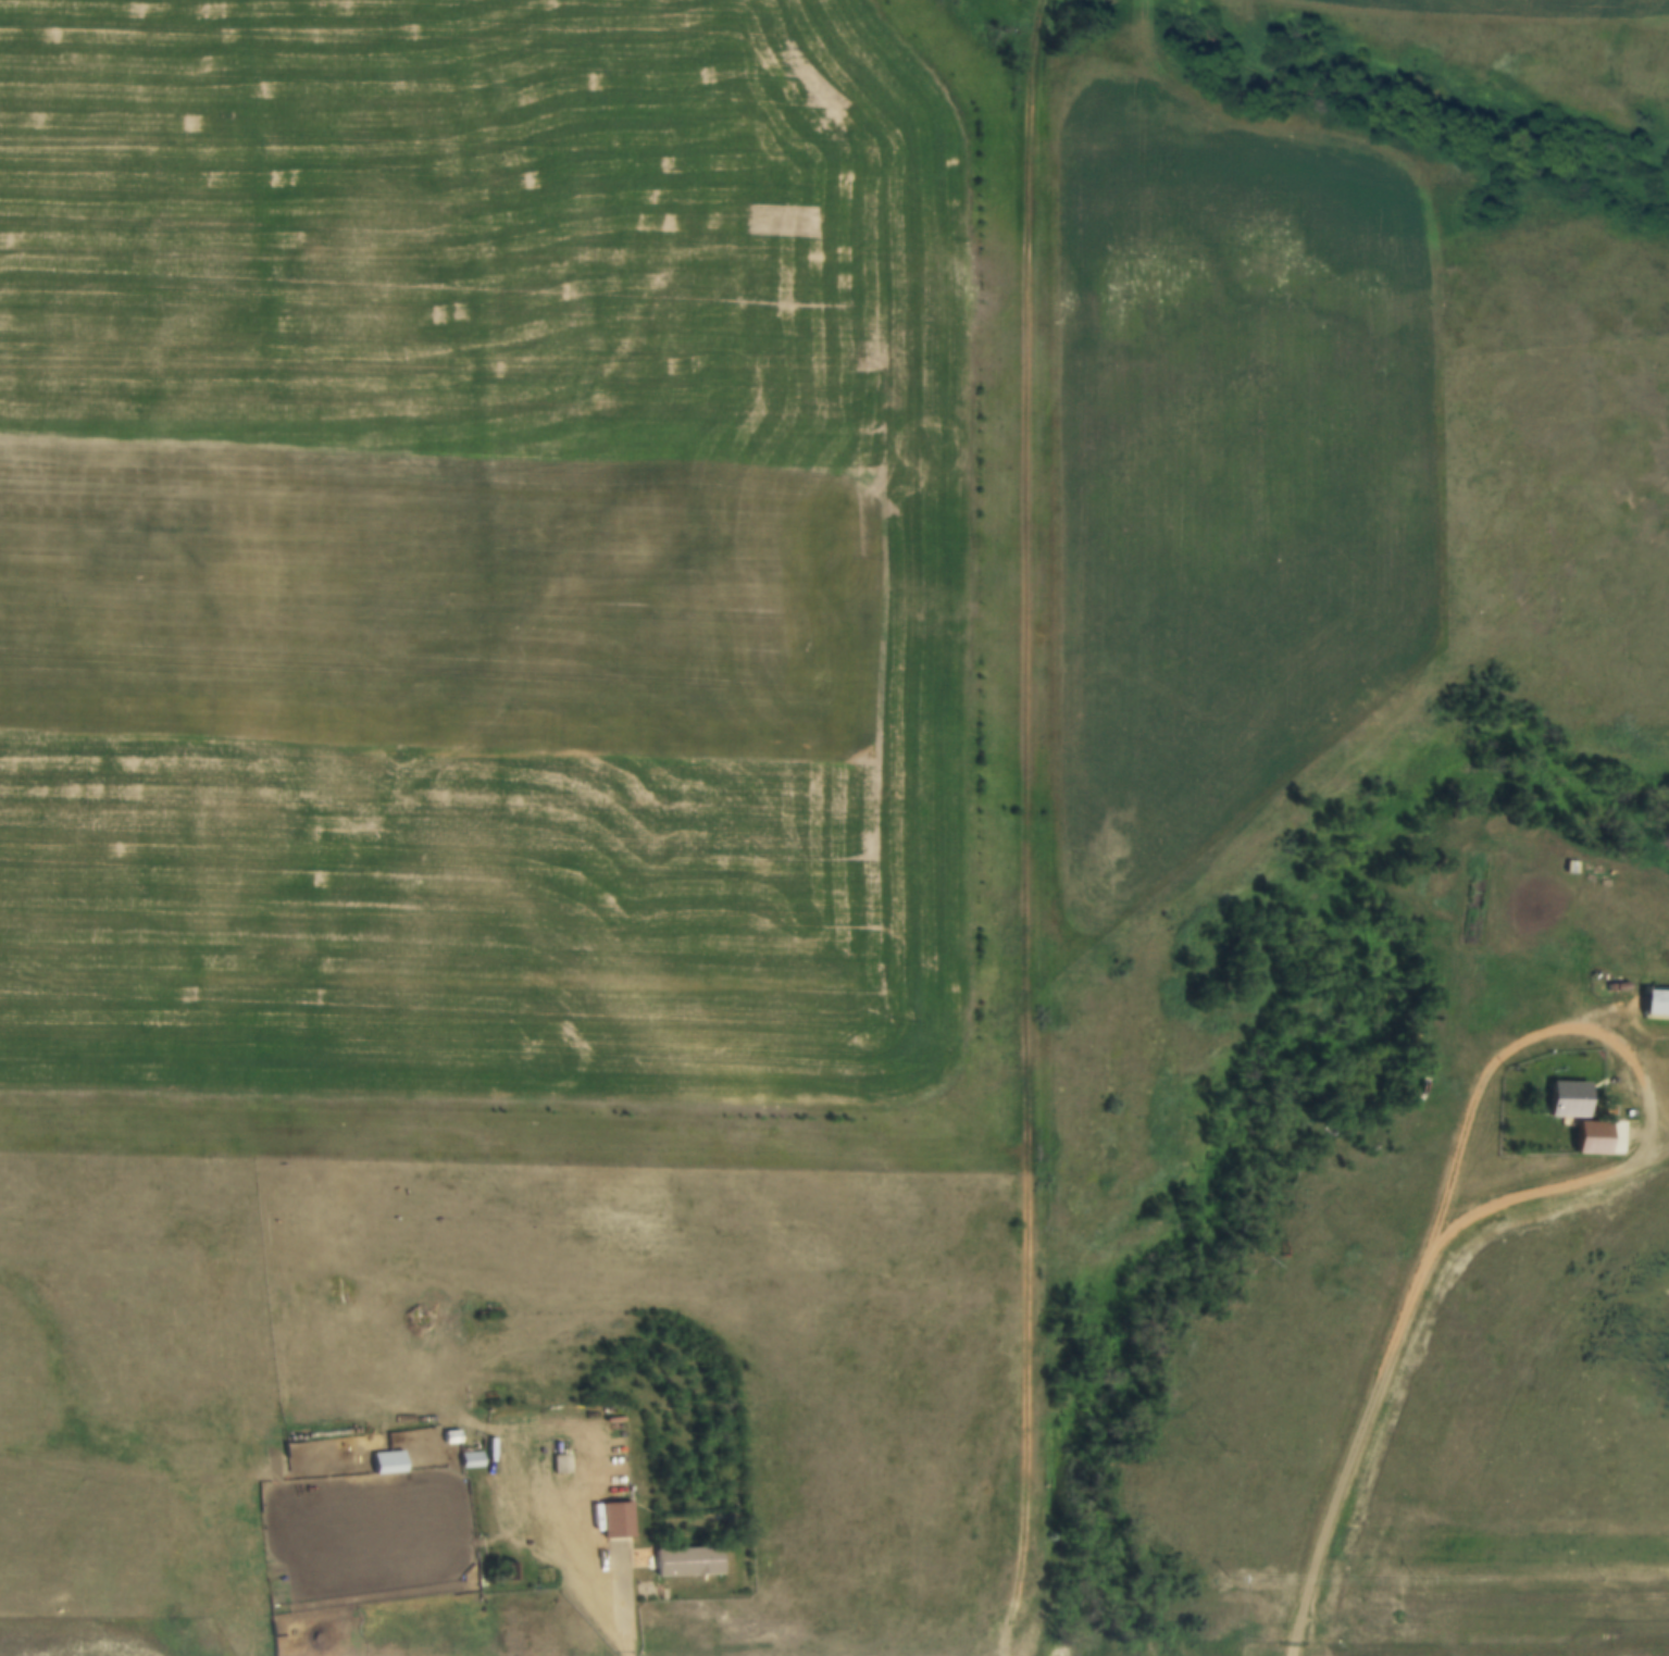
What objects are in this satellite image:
road: (1026, 827)
building: (1658, 1005)
road: (1629, 1058)
building: (1572, 1100)
road: (1357, 1447)
building: (468, 1459)
building: (389, 1462)
building: (563, 1466)
road: (591, 1540)
building: (508, 1560)
building: (687, 1568)

